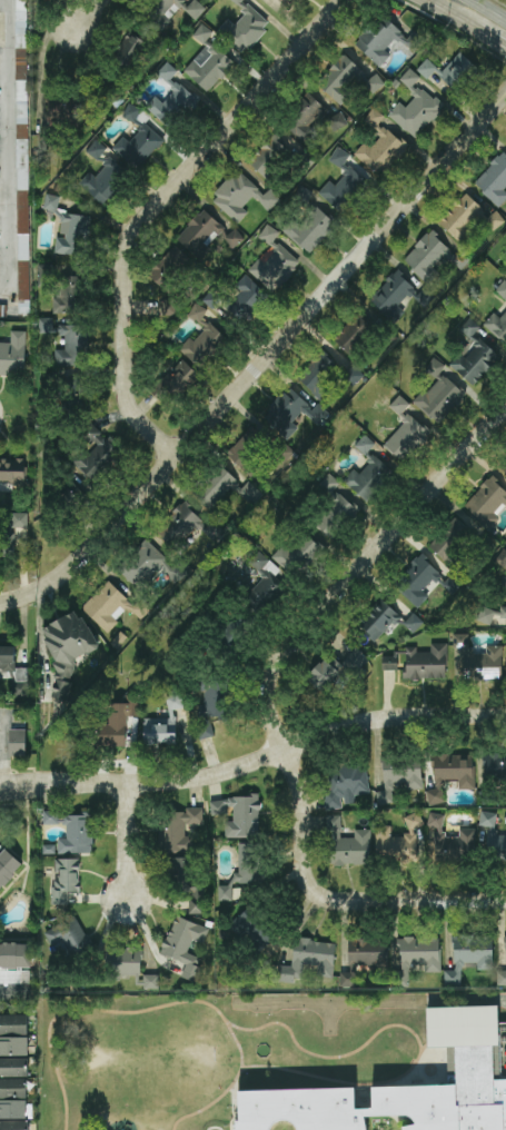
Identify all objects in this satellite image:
road: (440, 8)
building: (195, 9)
road: (489, 9)
building: (167, 11)
road: (88, 12)
building: (244, 28)
road: (482, 32)
building: (202, 33)
building: (386, 41)
building: (129, 51)
building: (208, 67)
building: (427, 69)
building: (457, 71)
building: (339, 79)
building: (375, 83)
building: (171, 99)
building: (415, 107)
building: (58, 110)
building: (132, 113)
building: (305, 119)
building: (337, 122)
building: (138, 147)
building: (381, 151)
road: (11, 155)
building: (22, 157)
building: (269, 157)
building: (339, 157)
building: (494, 180)
building: (106, 181)
building: (344, 190)
building: (241, 197)
building: (51, 202)
road: (157, 207)
building: (462, 218)
building: (494, 220)
building: (310, 229)
building: (206, 234)
building: (73, 235)
building: (268, 235)
building: (433, 257)
building: (169, 267)
building: (275, 267)
building: (44, 276)
building: (503, 289)
building: (393, 294)
building: (69, 295)
building: (425, 297)
building: (212, 299)
building: (245, 299)
building: (3, 310)
building: (197, 313)
building: (46, 325)
building: (497, 325)
building: (353, 334)
building: (202, 345)
building: (73, 346)
building: (13, 355)
building: (474, 355)
road: (262, 363)
building: (353, 376)
building: (182, 377)
building: (319, 377)
building: (76, 391)
building: (439, 397)
building: (292, 413)
building: (405, 433)
building: (365, 445)
building: (97, 454)
building: (258, 454)
building: (12, 470)
building: (368, 478)
building: (224, 489)
building: (487, 503)
building: (335, 516)
building: (179, 526)
building: (450, 538)
building: (298, 554)
building: (502, 558)
building: (150, 566)
road: (361, 567)
building: (417, 581)
building: (264, 582)
building: (453, 584)
building: (108, 606)
building: (492, 613)
building: (378, 621)
building: (413, 623)
building: (68, 648)
building: (479, 660)
building: (389, 663)
building: (426, 663)
building: (10, 665)
building: (336, 670)
building: (214, 698)
building: (119, 722)
building: (163, 722)
building: (205, 731)
building: (18, 742)
road: (1, 749)
road: (255, 761)
building: (495, 766)
building: (450, 774)
building: (399, 777)
building: (345, 784)
building: (238, 815)
building: (50, 817)
building: (179, 830)
building: (77, 835)
building: (493, 836)
road: (27, 840)
building: (398, 841)
building: (452, 842)
road: (129, 844)
building: (347, 844)
building: (7, 865)
building: (181, 865)
road: (26, 866)
building: (244, 870)
building: (66, 880)
road: (335, 900)
building: (196, 901)
building: (254, 928)
building: (69, 936)
building: (185, 945)
building: (474, 951)
building: (417, 956)
building: (364, 958)
building: (309, 959)
building: (125, 962)
building: (14, 963)
building: (502, 975)
building: (453, 977)
building: (151, 981)
road: (14, 992)
road: (159, 1007)
building: (13, 1024)
building: (456, 1024)
road: (414, 1032)
building: (13, 1047)
building: (13, 1068)
building: (13, 1088)
building: (388, 1101)
road: (235, 1107)
building: (13, 1109)
building: (13, 1124)
road: (216, 1128)

